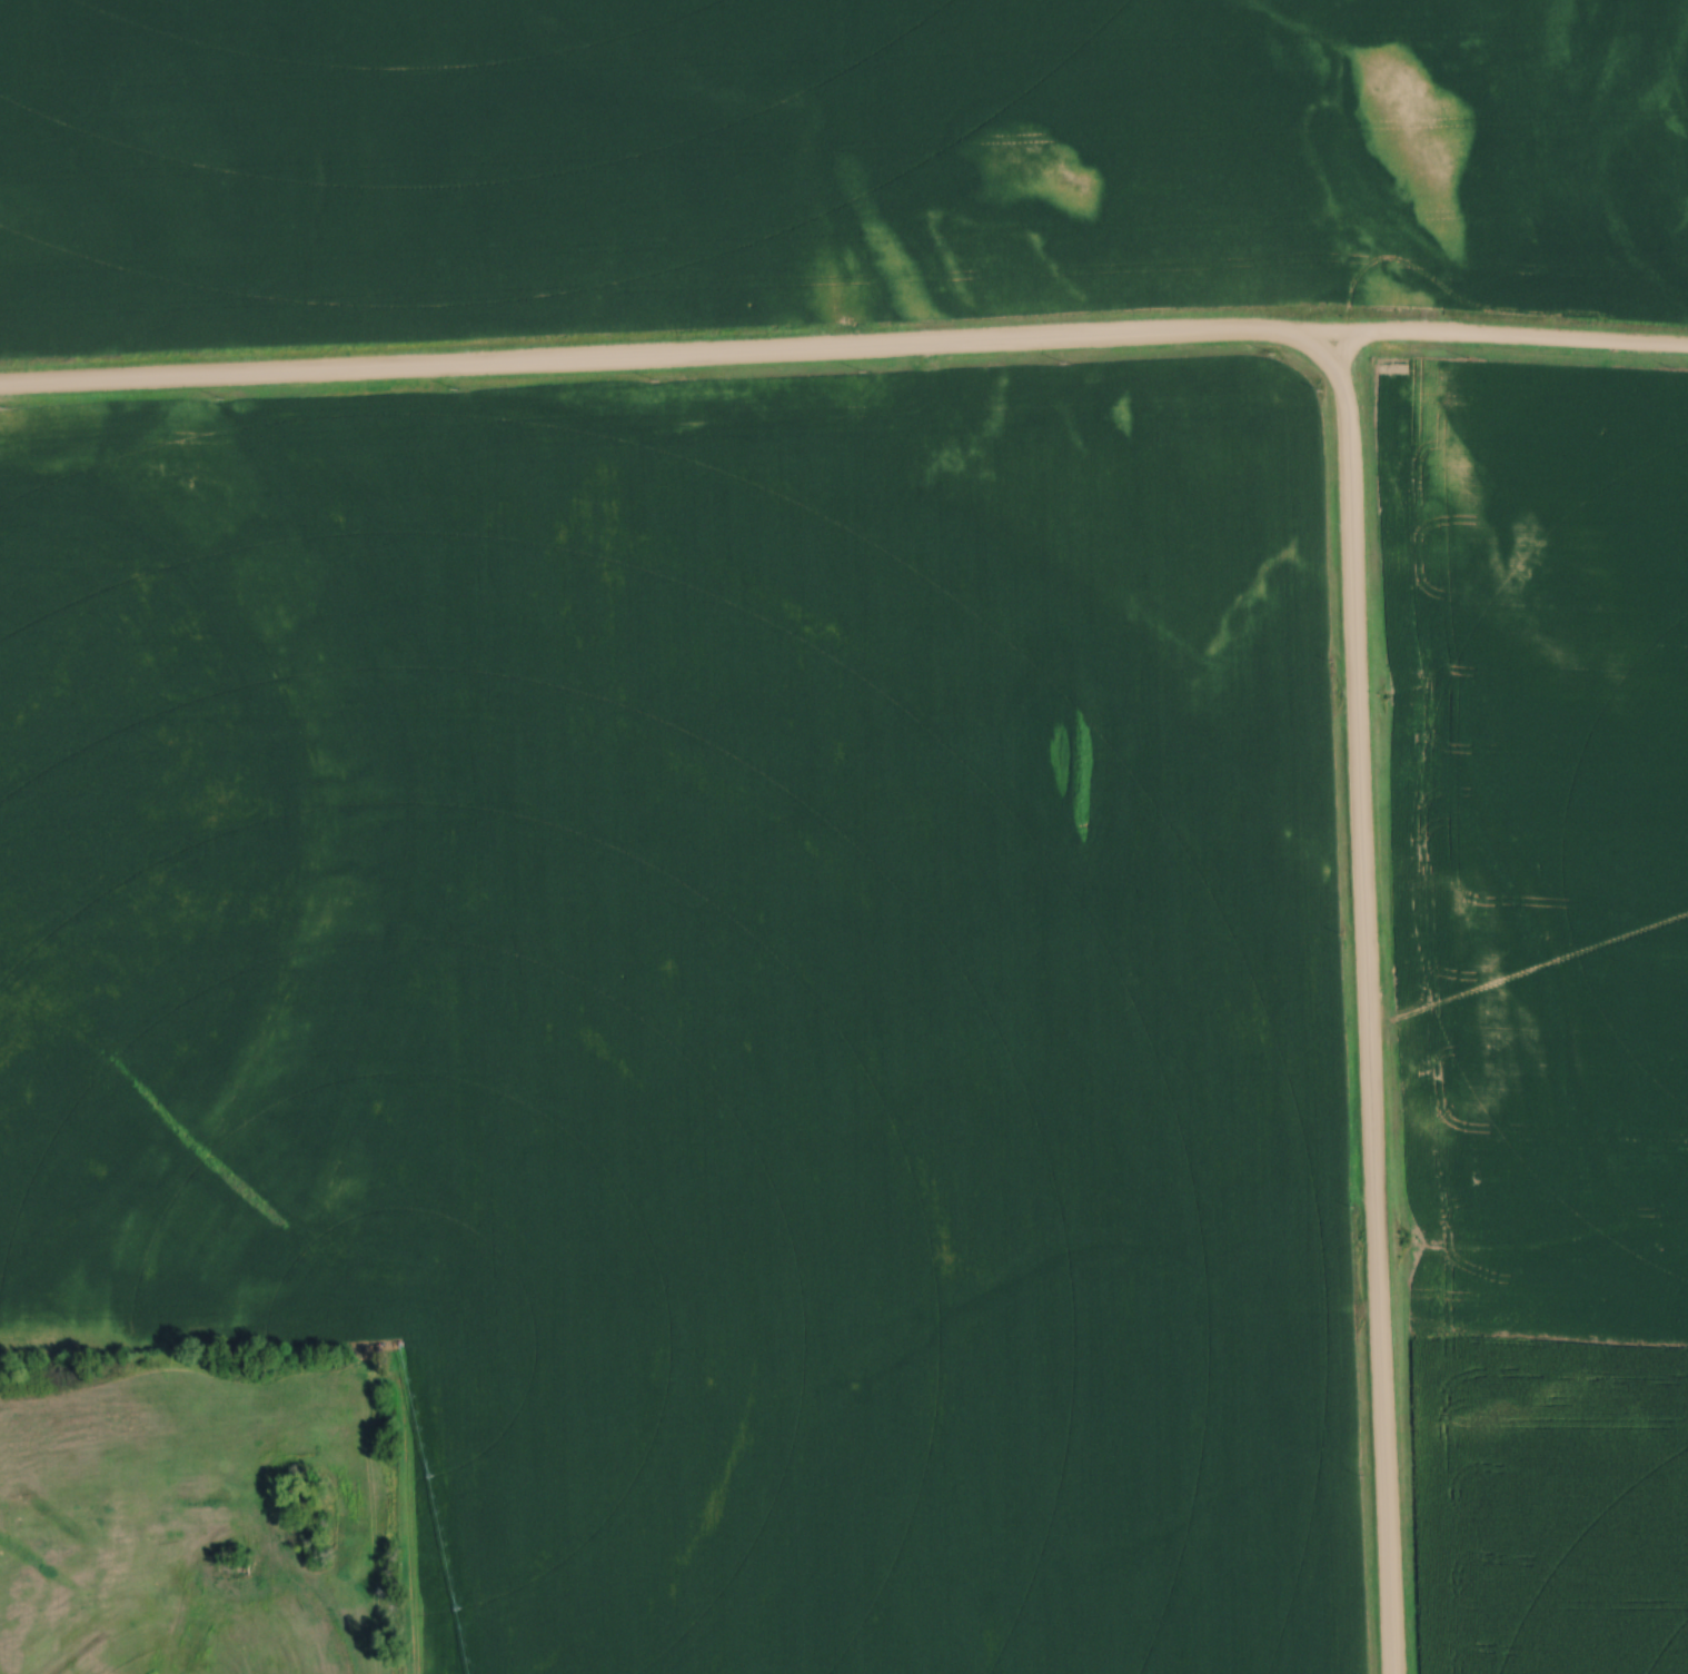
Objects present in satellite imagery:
road: (1500, 330)
road: (658, 353)
road: (1369, 1003)

